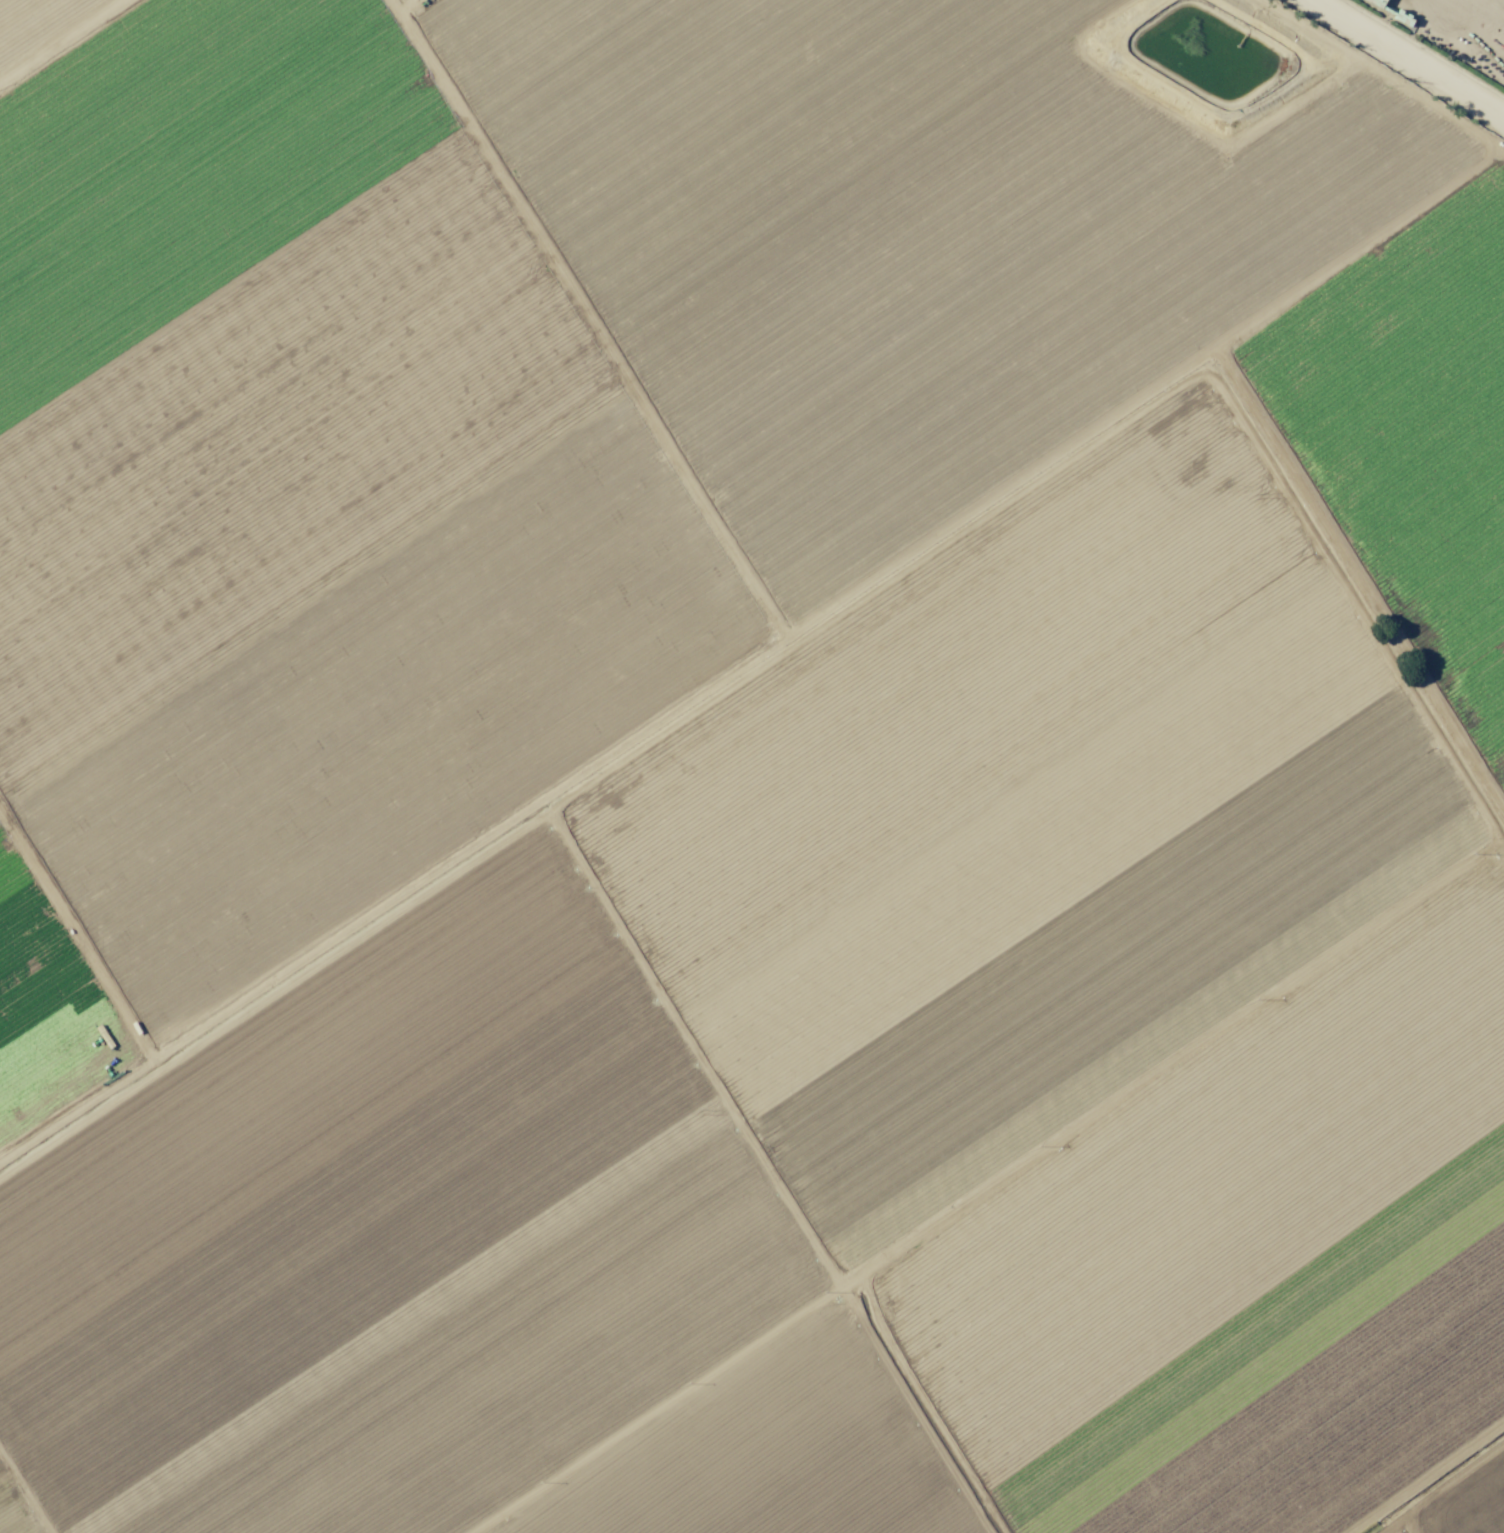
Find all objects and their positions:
road: (93, 59)
road: (1388, 66)
wastewater plant: (1193, 462)
road: (837, 582)
crop: (743, 778)
road: (996, 1185)

